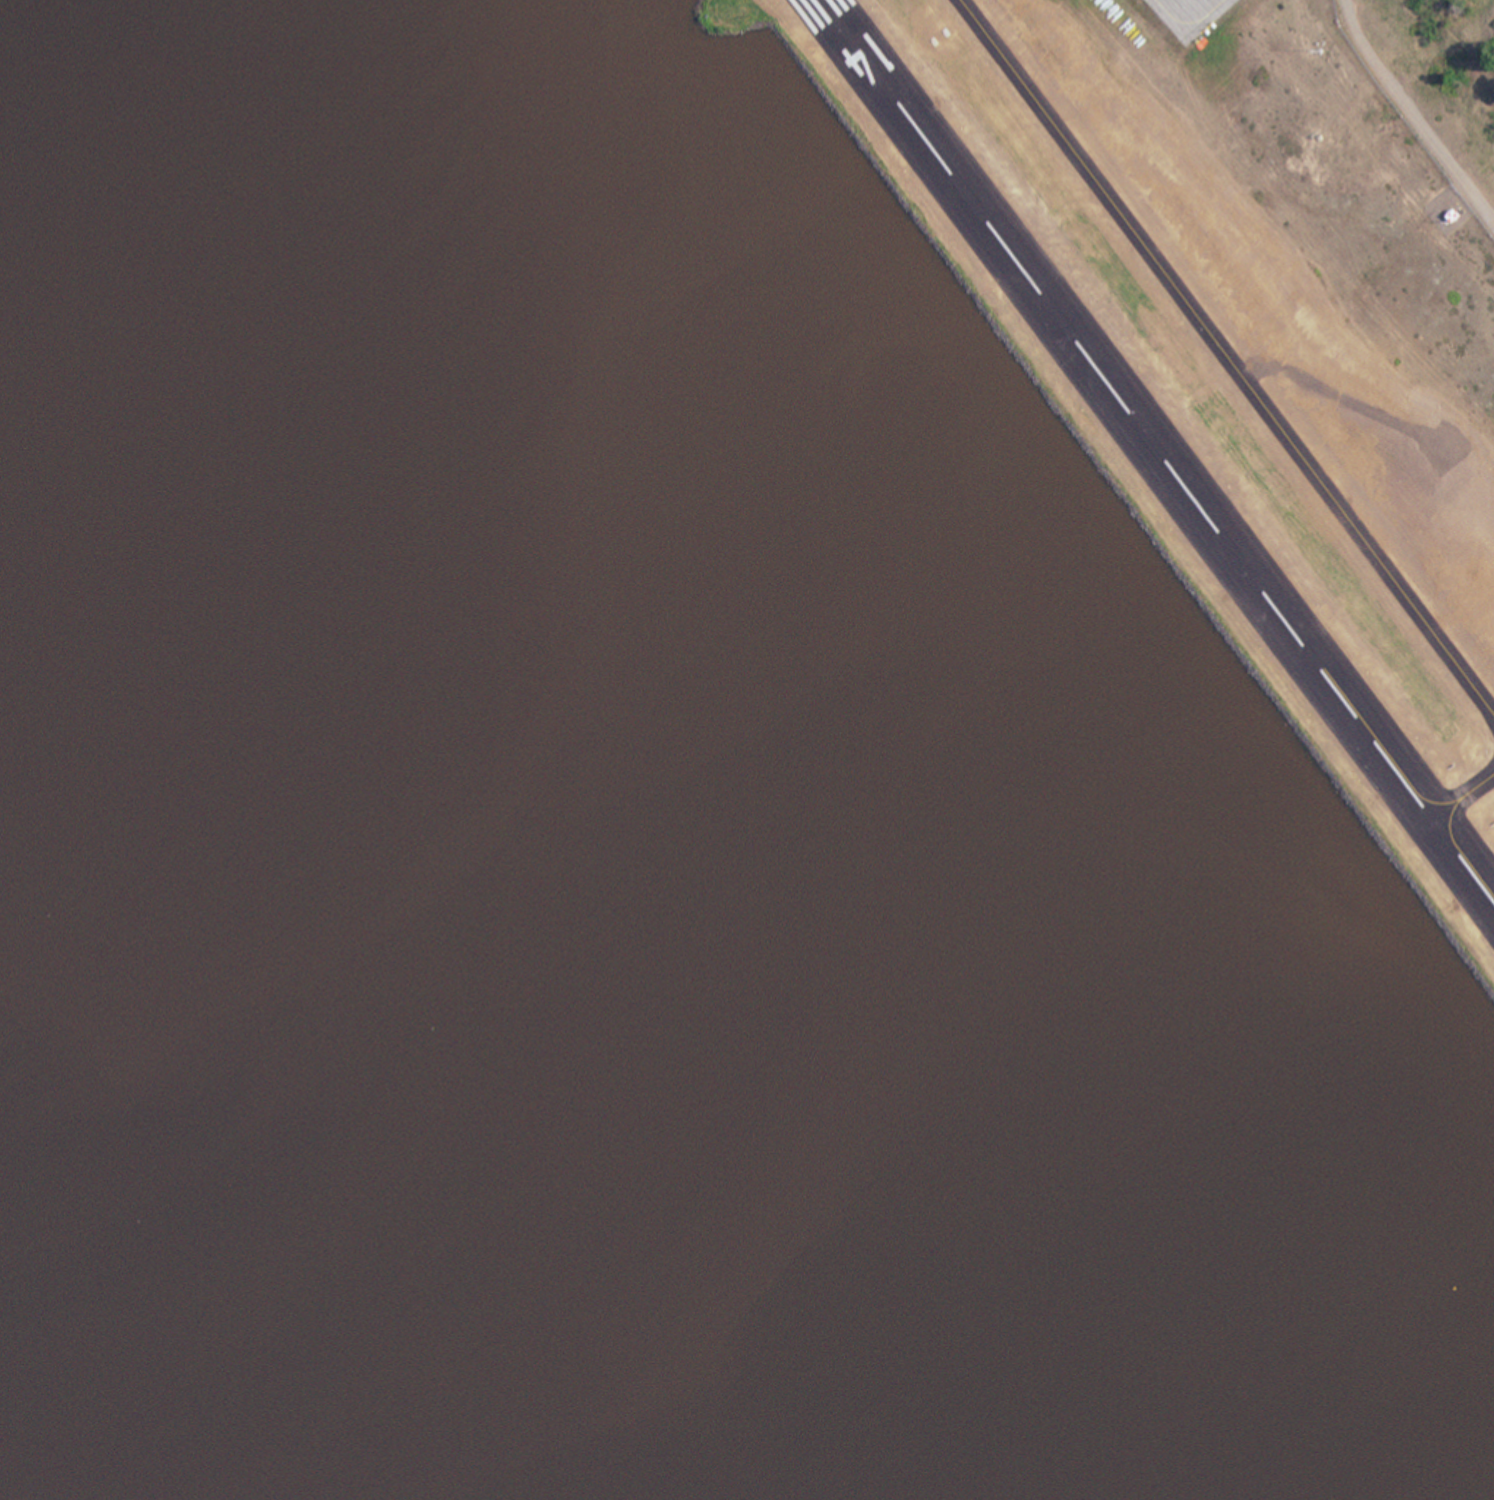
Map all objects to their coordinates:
airport apron: (1188, 14)
airport taxiway: (1187, 23)
road: (1413, 113)
airport: (1232, 347)
airport taxiway: (1227, 356)
airport runway: (1159, 449)
airport taxiway: (1463, 794)

